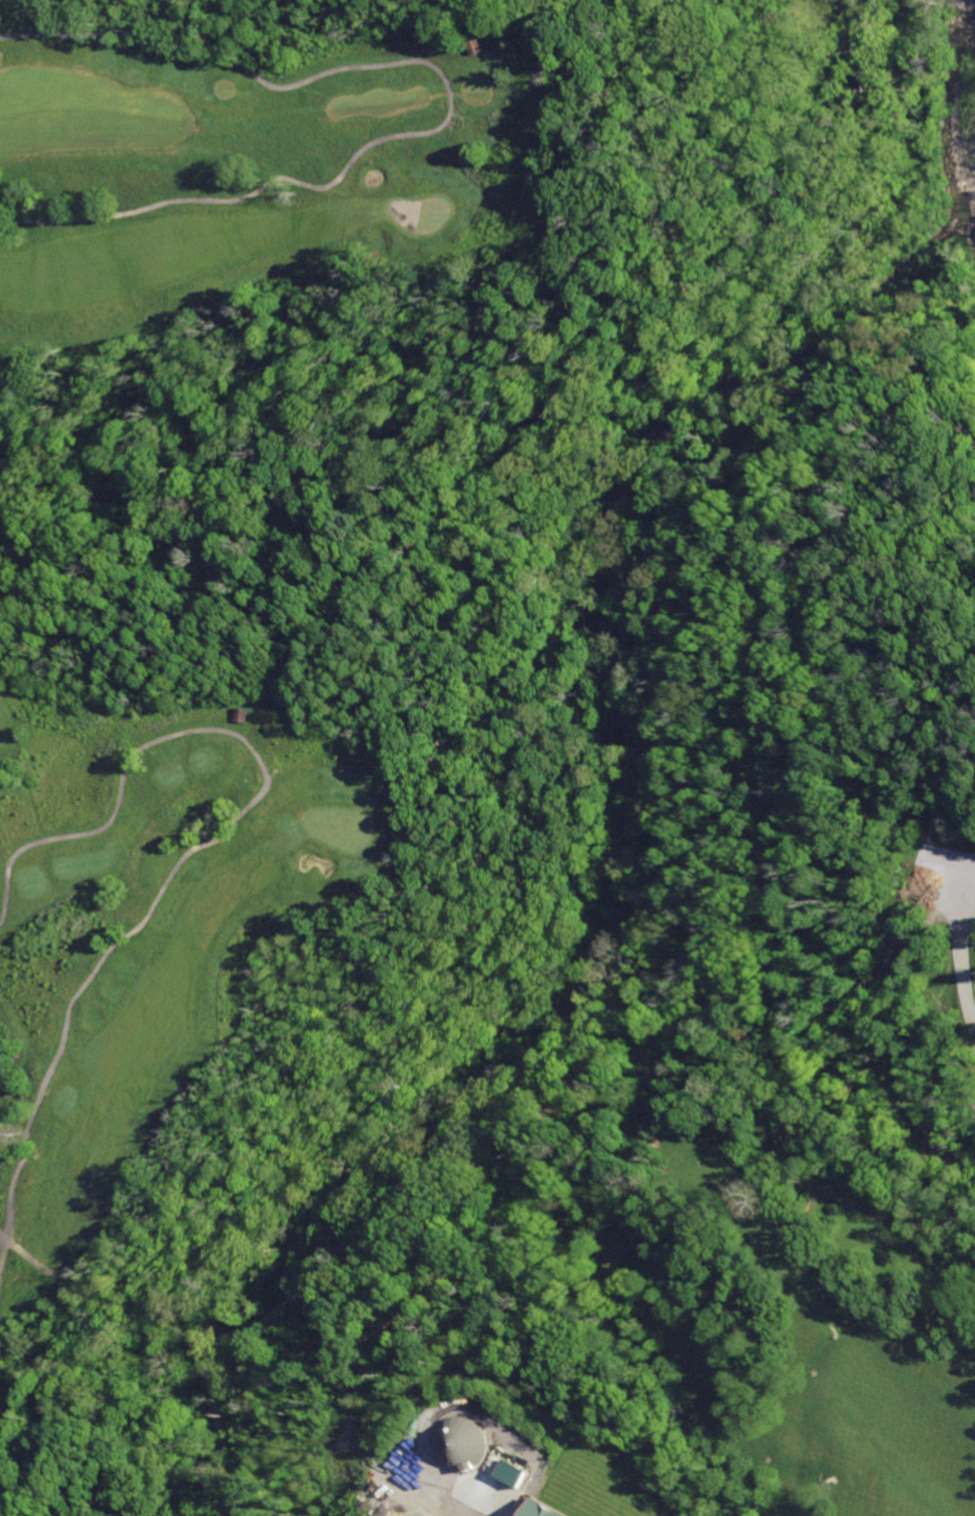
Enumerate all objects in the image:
road: (864, 17)
building: (475, 47)
road: (449, 100)
park: (255, 160)
road: (793, 659)
road: (653, 708)
road: (210, 840)
parking lot: (943, 880)
road: (962, 902)
park: (162, 916)
park: (762, 971)
road: (958, 980)
road: (2, 1240)
road: (2, 1255)
road: (47, 1271)
road: (208, 1368)
building: (459, 1443)
storage tank: (459, 1443)
building: (510, 1472)
building: (540, 1509)

